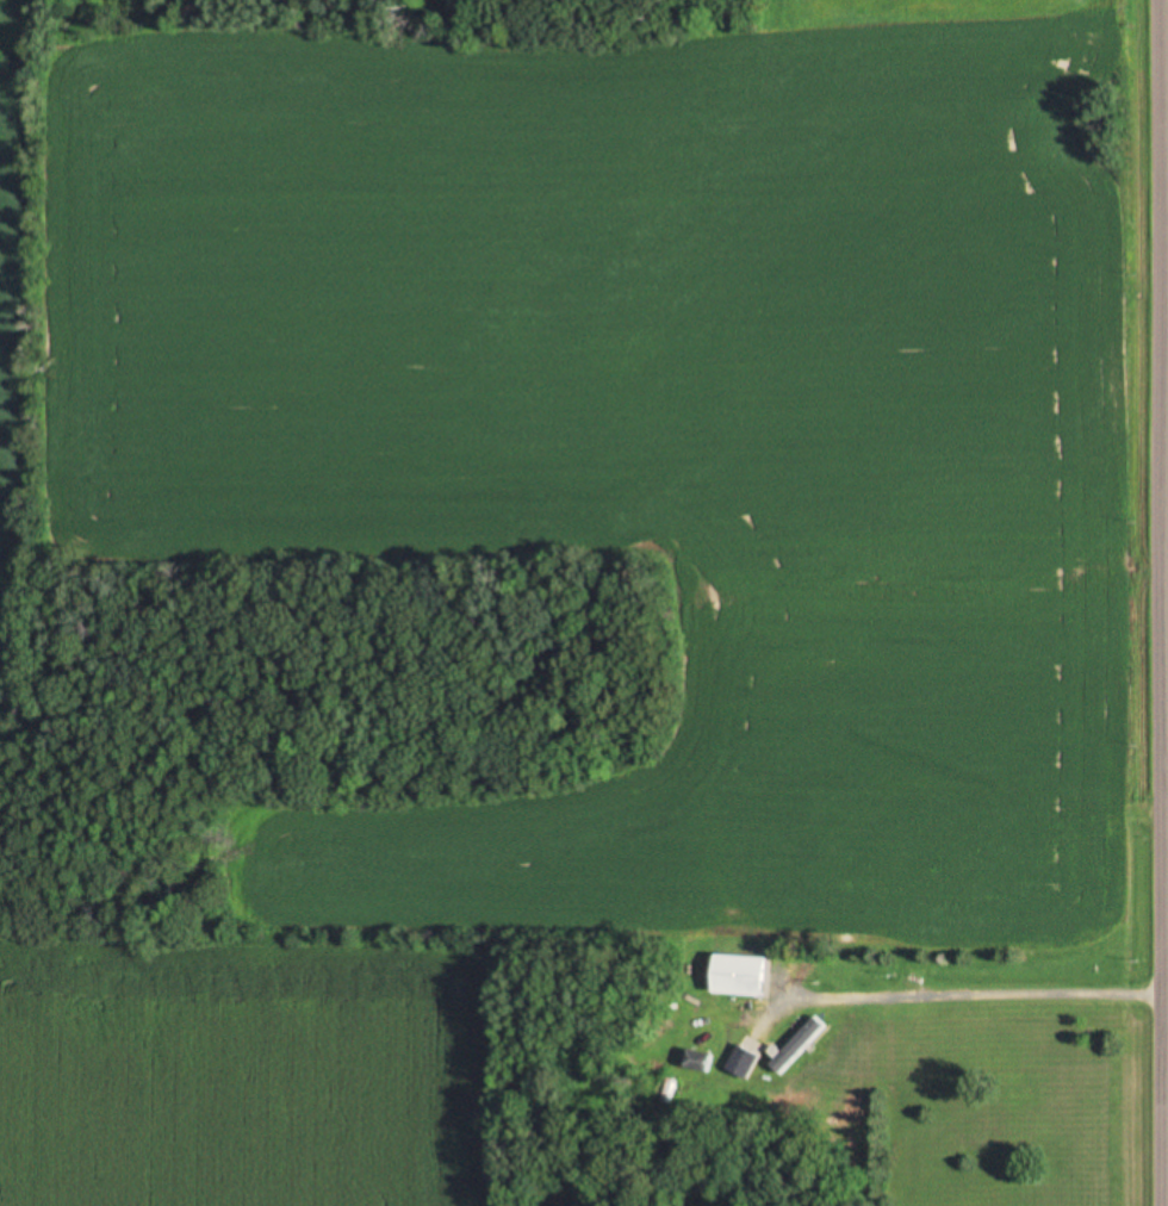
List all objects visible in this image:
road: (1153, 603)
building: (737, 977)
building: (797, 1044)
building: (697, 1063)
building: (740, 1063)

